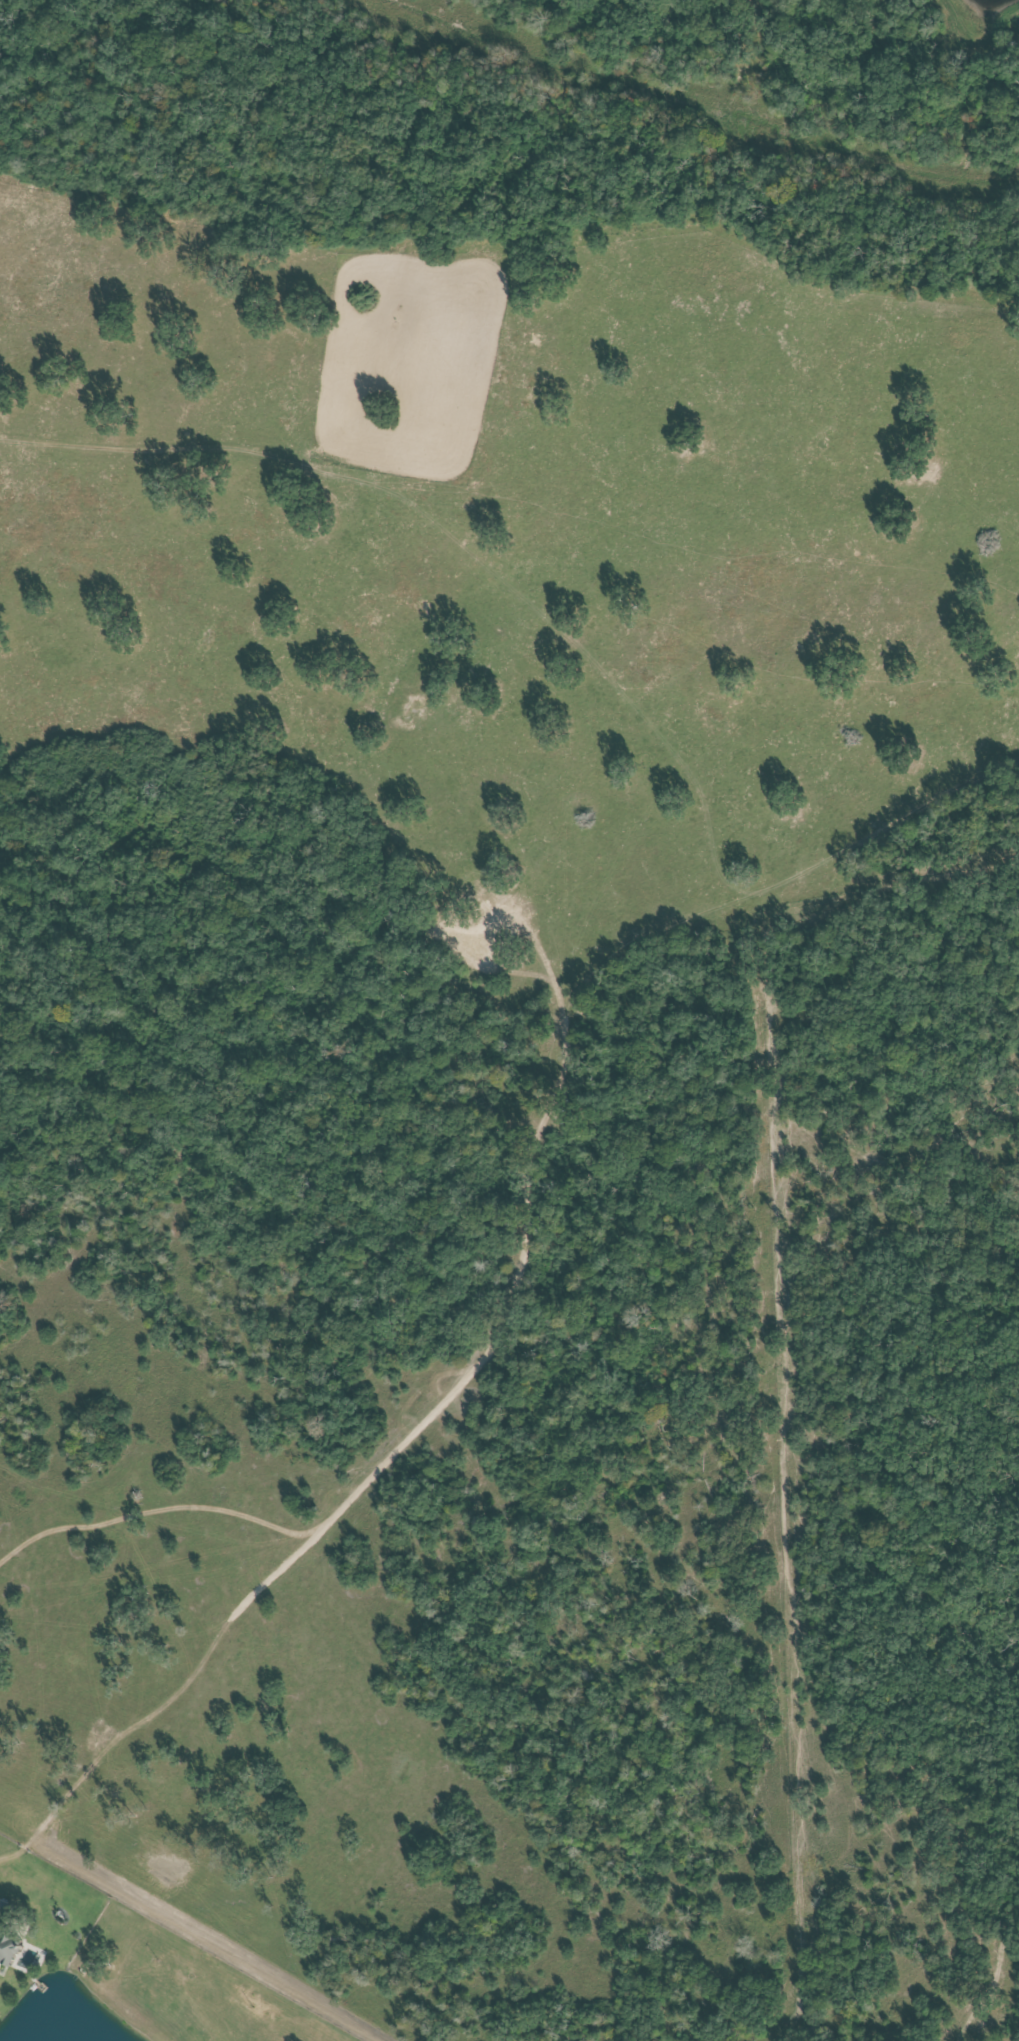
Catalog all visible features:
building: (8, 1946)

